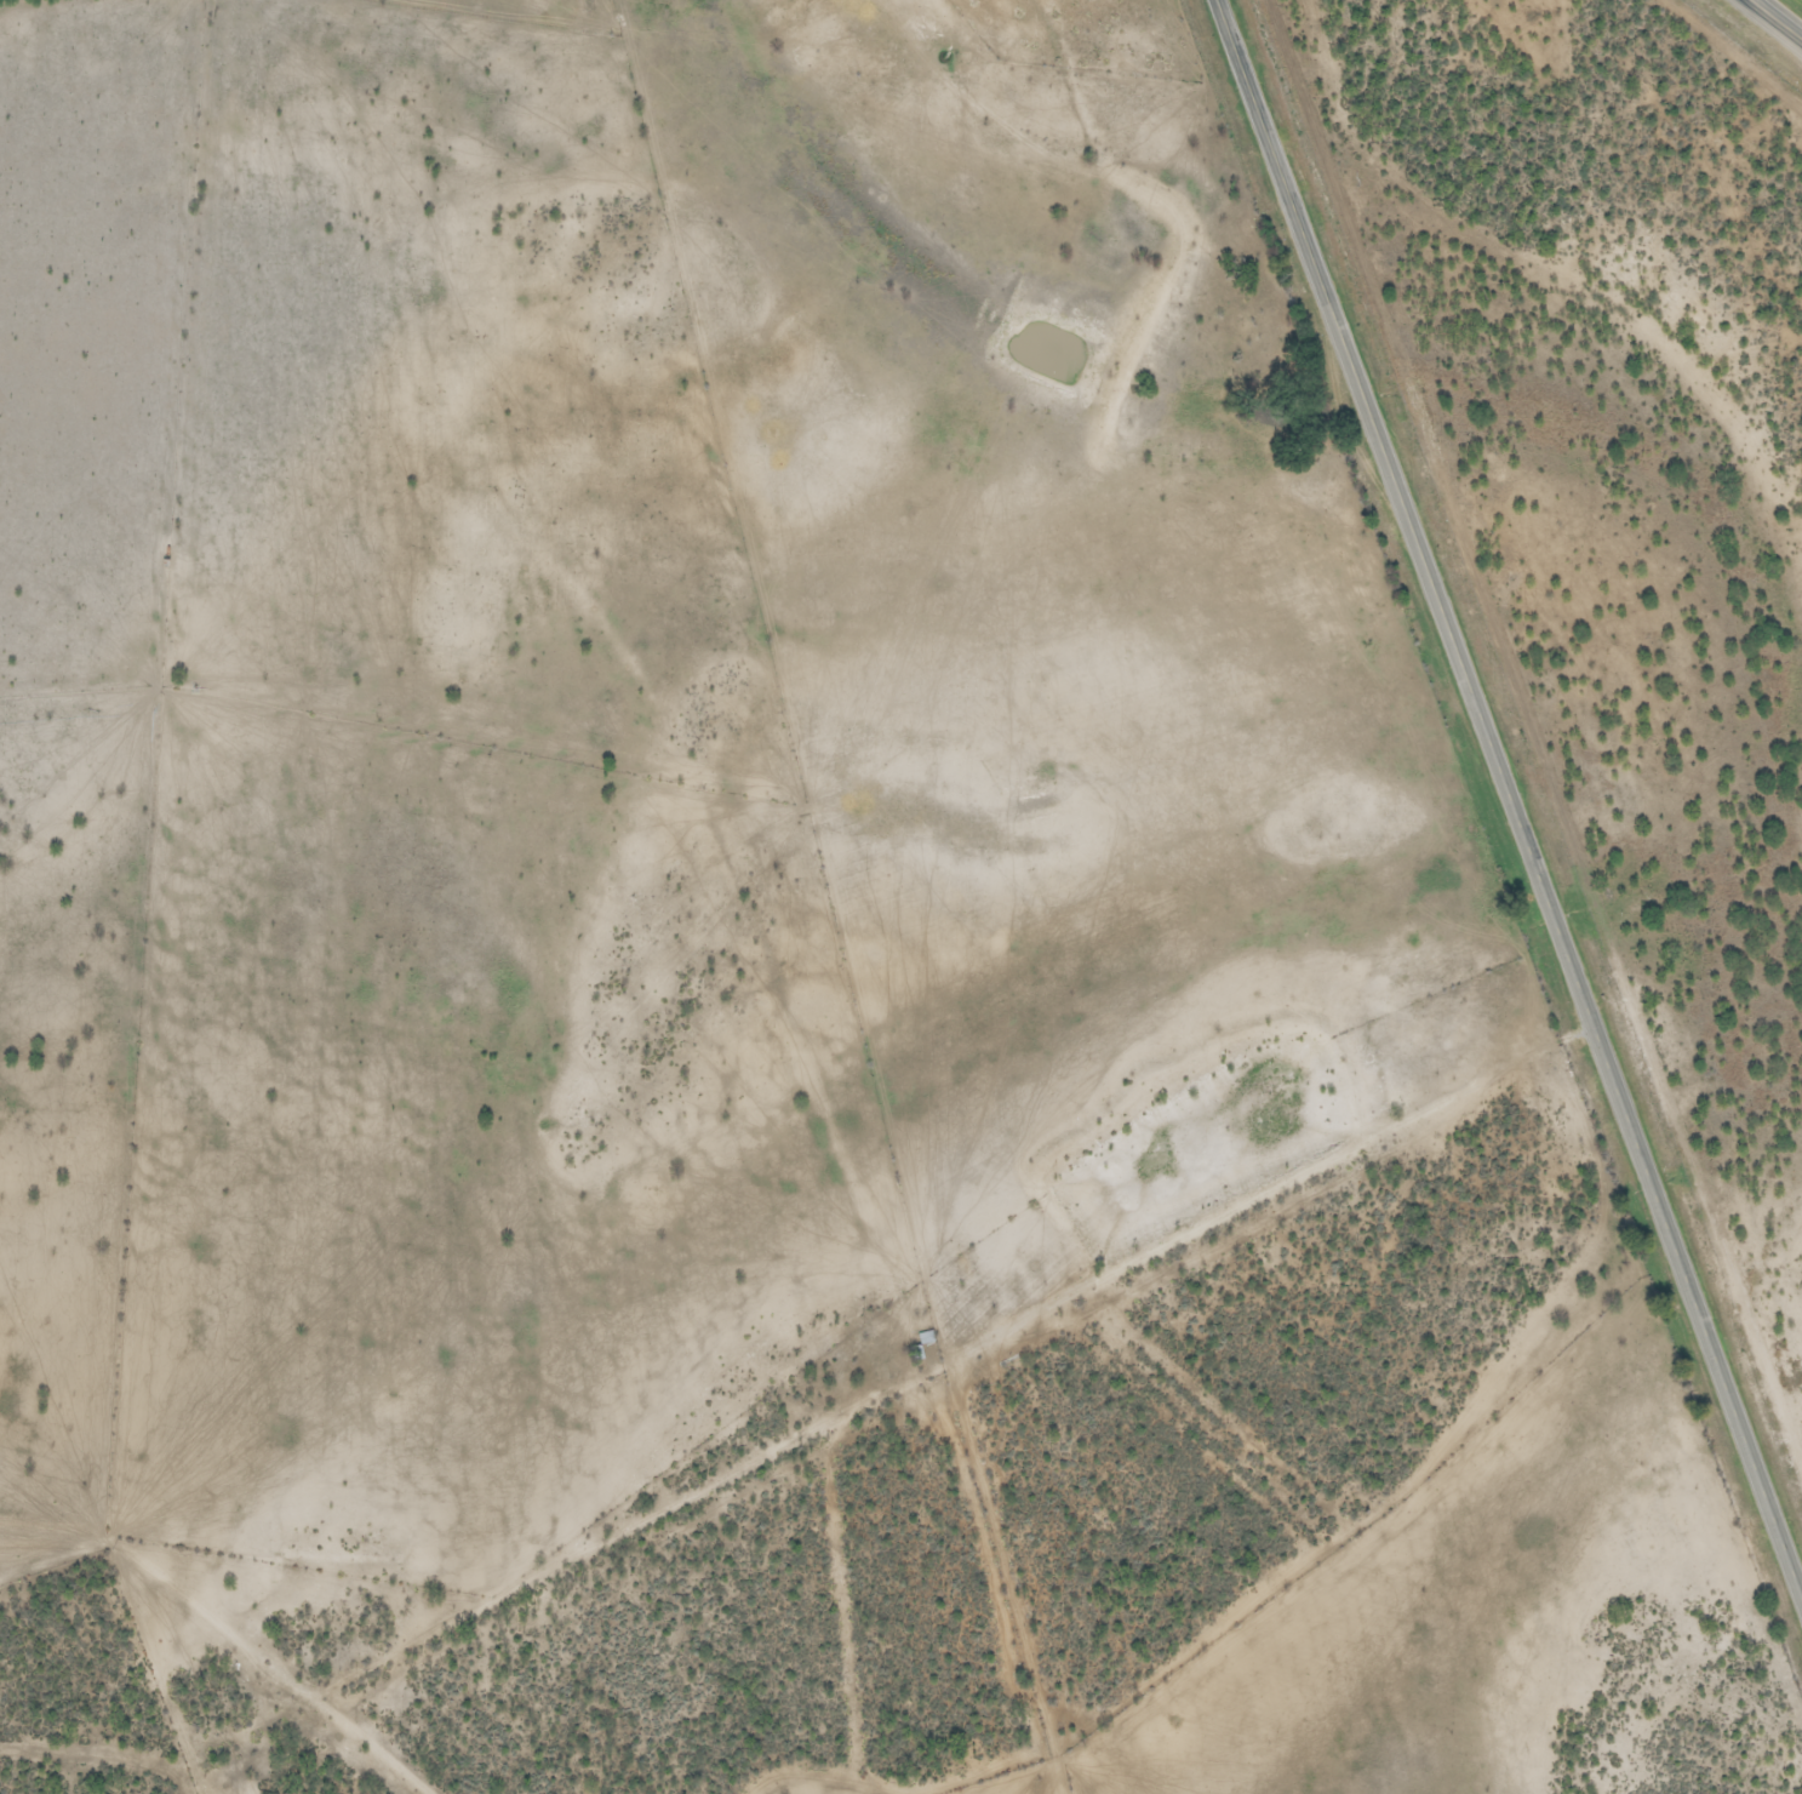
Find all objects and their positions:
road: (1779, 17)
railway: (1741, 51)
road: (1511, 804)

